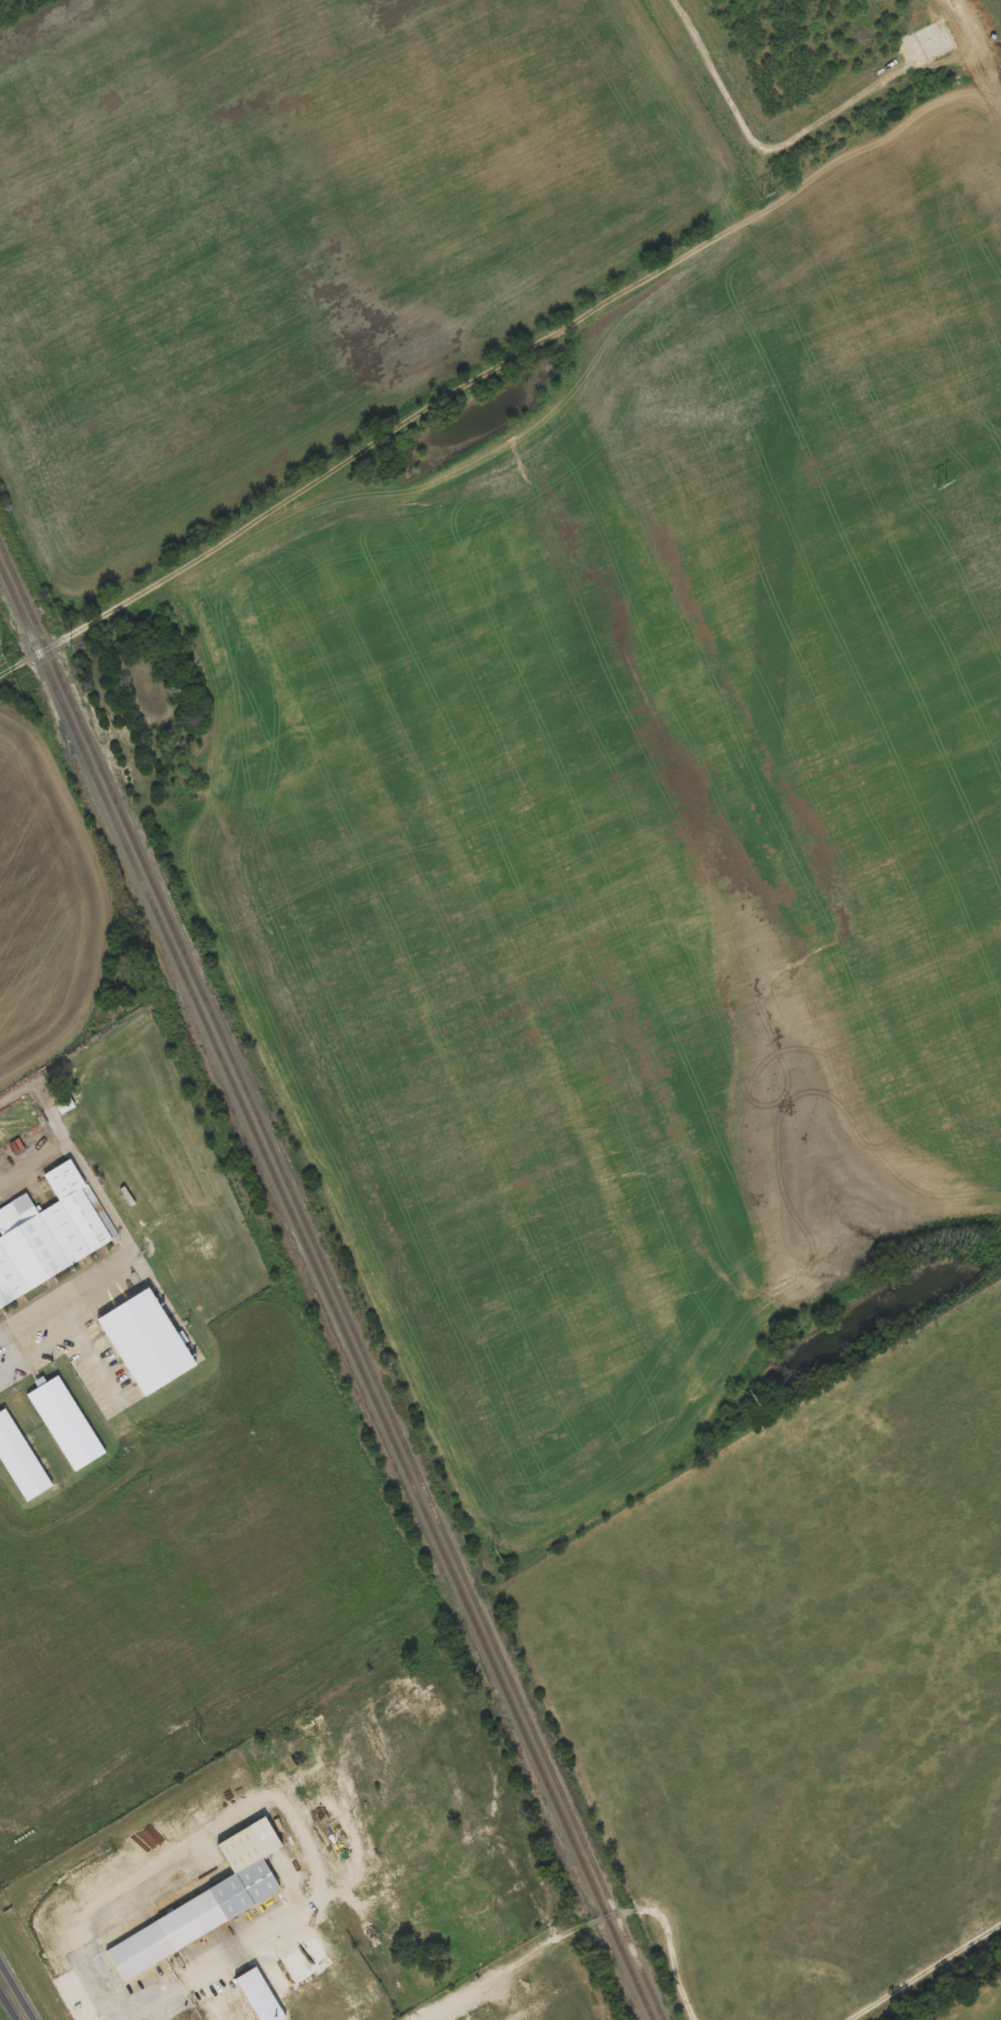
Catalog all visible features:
power tower: (764, 194)
road: (580, 318)
power tower: (940, 485)
road: (79, 628)
road: (32, 1157)
road: (114, 1214)
building: (51, 1236)
road: (483, 1266)
railway: (332, 1282)
railway: (326, 1292)
road: (35, 1349)
road: (85, 1350)
power tower: (751, 1397)
building: (71, 1424)
building: (25, 1455)
power tower: (494, 1553)
power tower: (196, 1735)
building: (223, 1886)
road: (12, 1998)

